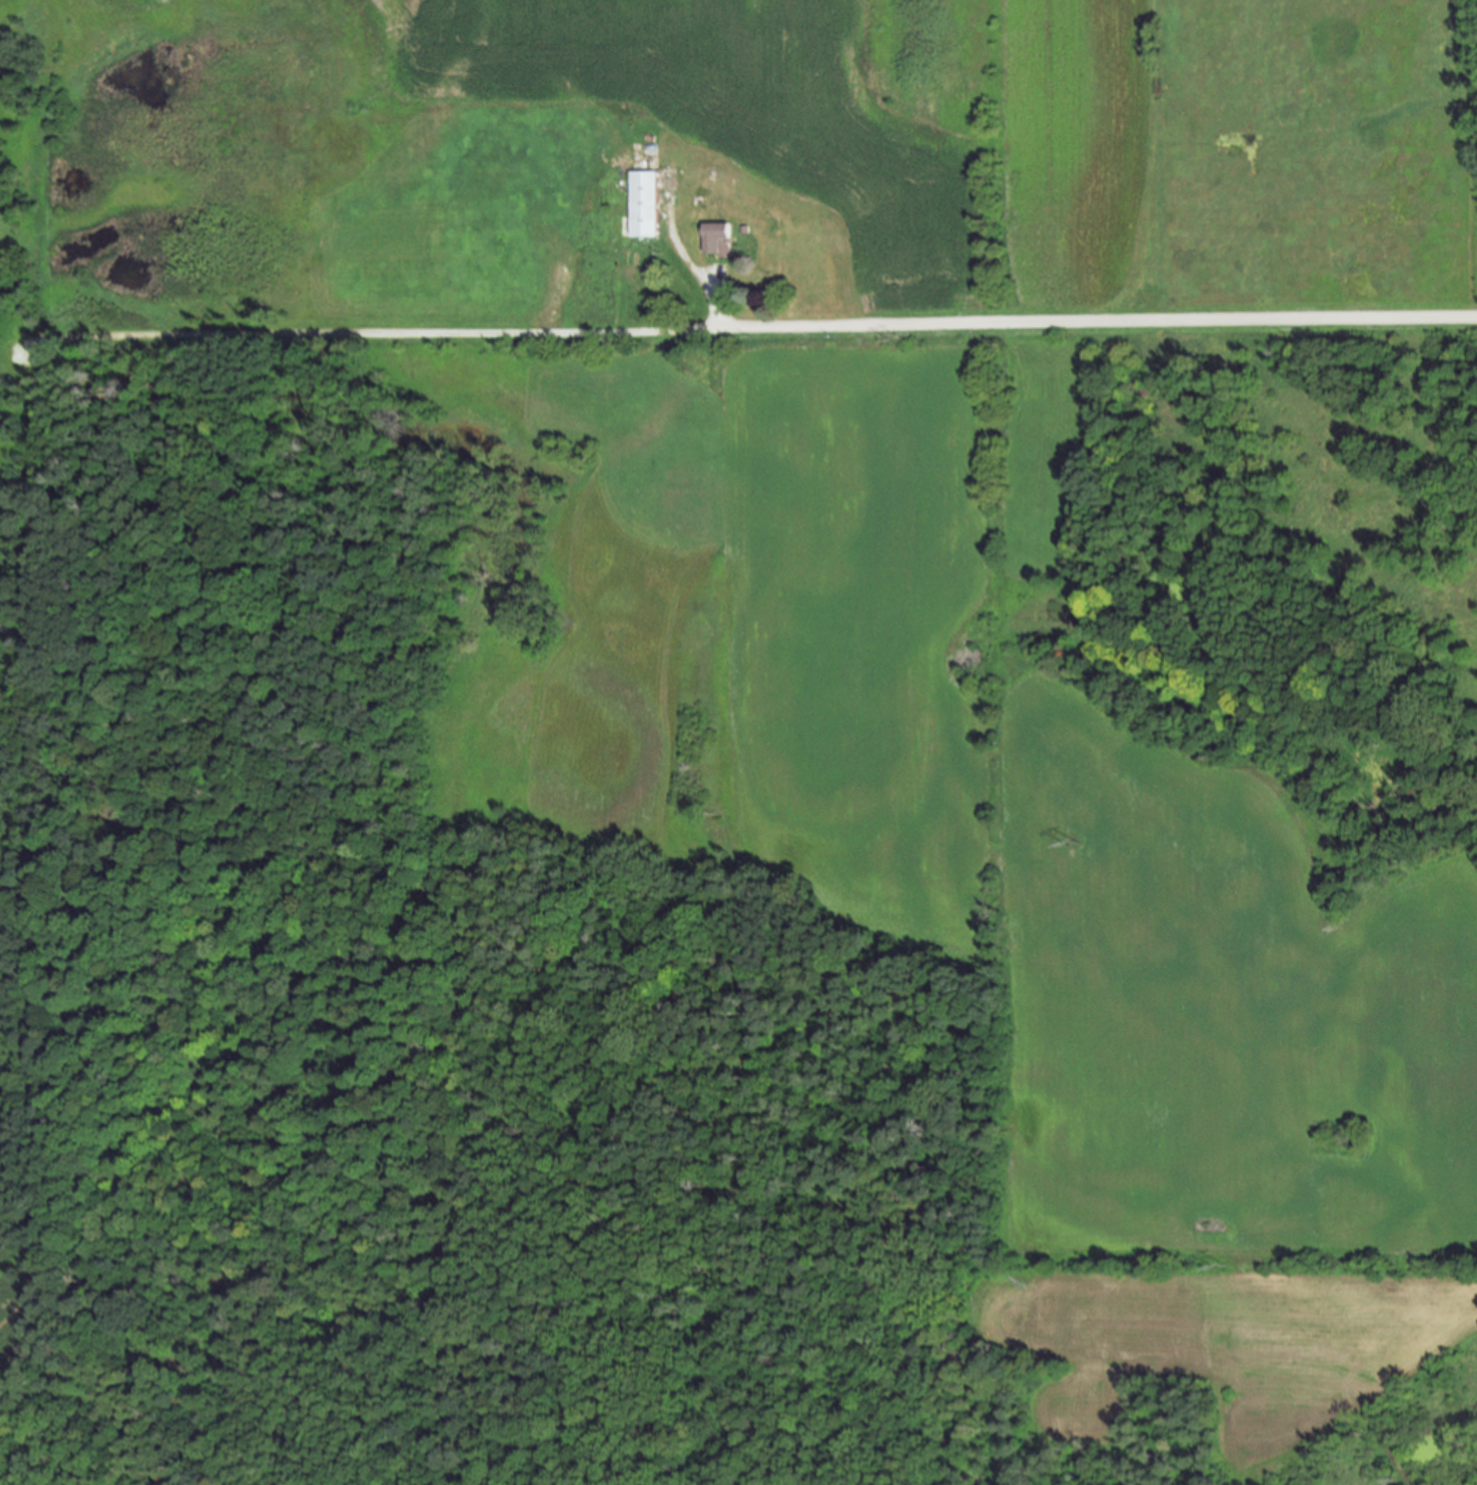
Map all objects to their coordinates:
building: (643, 205)
building: (717, 240)
road: (1098, 320)
road: (332, 334)
power tower: (894, 342)
power tower: (1069, 847)
power tower: (1214, 1268)

